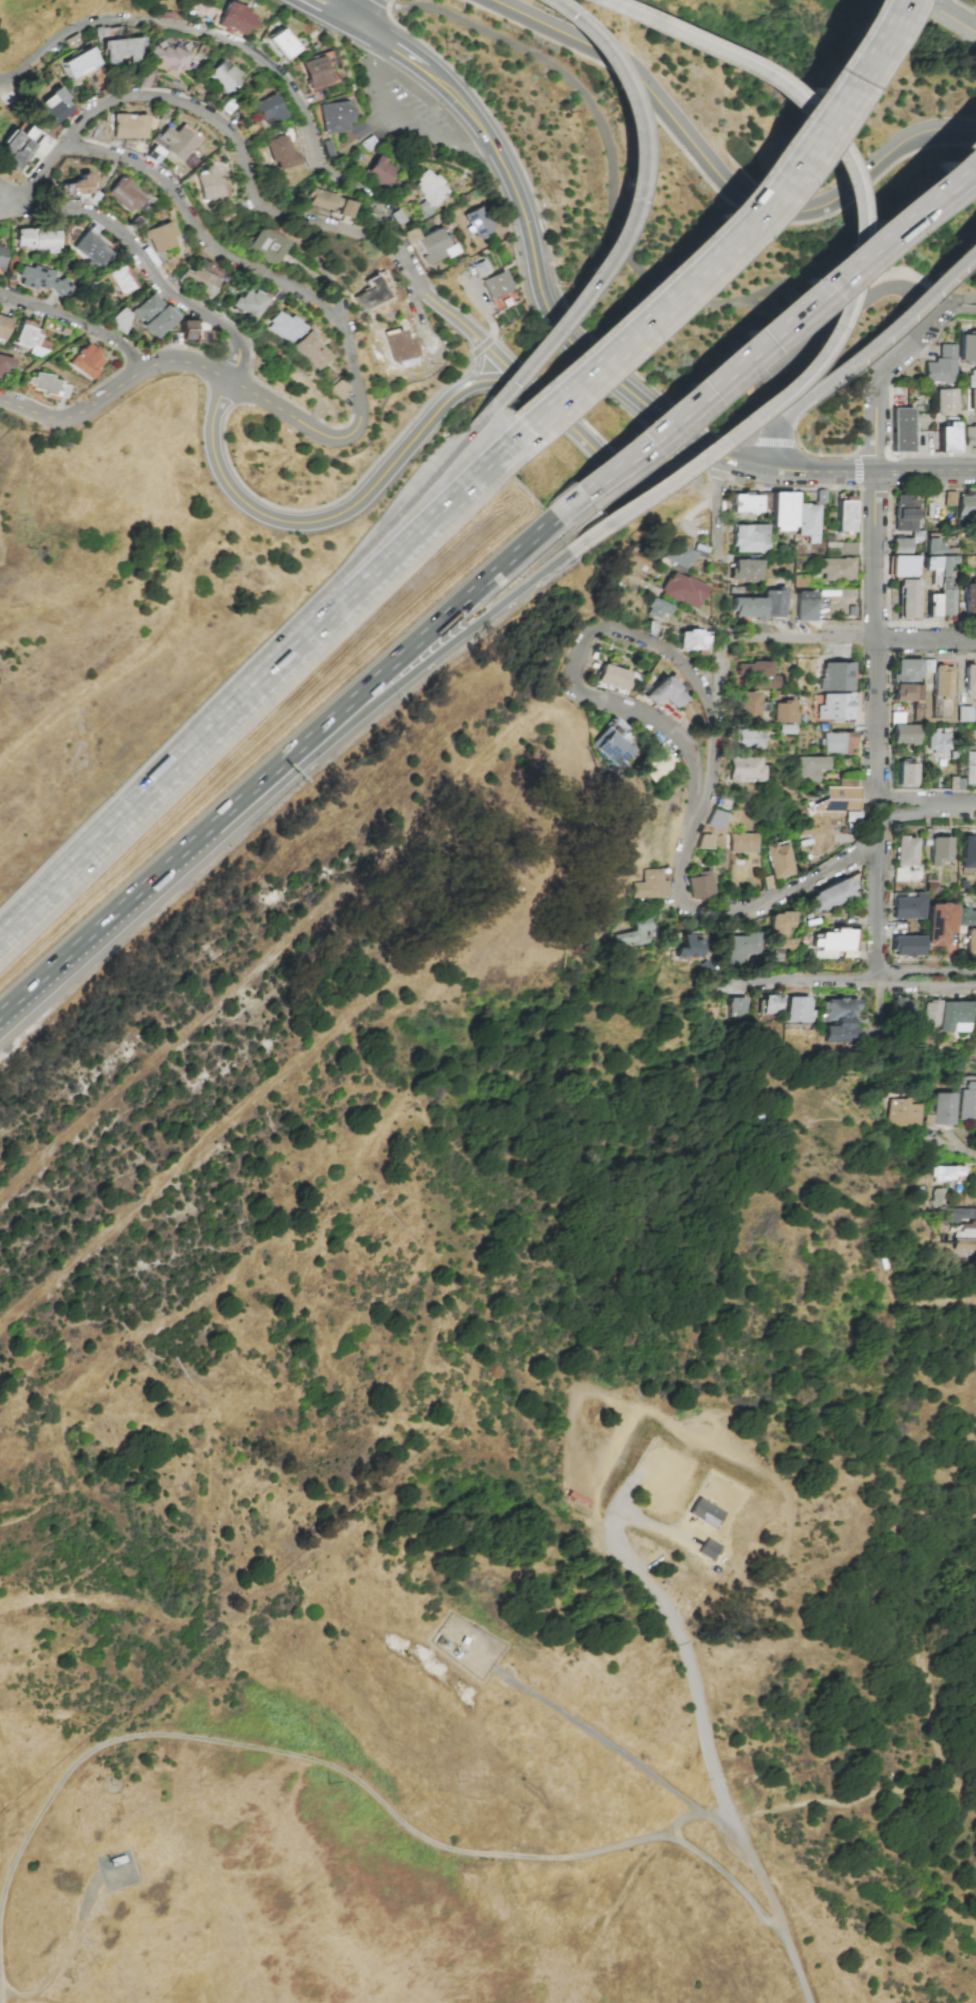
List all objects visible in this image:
road: (919, 1)
road: (343, 9)
road: (358, 9)
road: (317, 16)
road: (944, 16)
building: (236, 20)
road: (234, 44)
building: (280, 44)
building: (122, 50)
building: (167, 59)
building: (80, 63)
building: (318, 71)
building: (225, 77)
road: (135, 98)
building: (53, 109)
building: (268, 110)
building: (334, 116)
road: (395, 123)
building: (128, 126)
building: (176, 142)
building: (17, 147)
building: (281, 152)
building: (380, 171)
road: (717, 177)
building: (207, 184)
building: (78, 185)
building: (428, 191)
road: (614, 191)
building: (124, 195)
road: (631, 201)
building: (330, 203)
building: (477, 222)
road: (323, 224)
road: (198, 231)
building: (410, 236)
building: (160, 237)
building: (38, 239)
building: (265, 246)
building: (433, 247)
building: (92, 249)
road: (710, 249)
road: (306, 255)
building: (2, 256)
road: (142, 260)
road: (538, 271)
road: (848, 272)
building: (201, 277)
building: (122, 279)
building: (43, 281)
building: (496, 284)
building: (371, 295)
building: (248, 304)
road: (953, 304)
road: (437, 305)
road: (848, 311)
building: (154, 315)
road: (779, 315)
building: (120, 320)
building: (284, 326)
building: (4, 327)
road: (767, 327)
road: (74, 328)
road: (884, 330)
building: (193, 333)
building: (29, 337)
building: (398, 346)
parking lot: (796, 346)
building: (967, 348)
building: (311, 351)
building: (85, 361)
road: (480, 361)
building: (5, 365)
building: (941, 365)
road: (511, 370)
building: (972, 378)
building: (47, 385)
building: (339, 389)
building: (944, 400)
building: (972, 400)
building: (900, 430)
building: (947, 436)
road: (344, 438)
building: (970, 438)
road: (776, 443)
road: (826, 469)
road: (926, 471)
road: (926, 489)
building: (950, 498)
building: (745, 504)
road: (720, 505)
road: (408, 506)
building: (966, 508)
building: (844, 513)
building: (905, 514)
road: (319, 520)
building: (807, 522)
building: (749, 538)
road: (876, 544)
building: (901, 546)
building: (842, 547)
building: (679, 555)
building: (902, 566)
building: (836, 569)
building: (745, 570)
building: (941, 581)
building: (682, 590)
building: (908, 599)
building: (969, 600)
building: (772, 603)
building: (805, 606)
building: (933, 606)
building: (746, 608)
building: (656, 609)
road: (447, 620)
road: (455, 637)
road: (814, 637)
building: (691, 641)
building: (908, 670)
building: (751, 675)
building: (836, 676)
building: (611, 677)
road: (578, 678)
building: (943, 682)
building: (970, 682)
building: (666, 691)
building: (907, 692)
road: (248, 699)
building: (917, 705)
building: (744, 706)
building: (835, 707)
building: (781, 712)
building: (964, 714)
building: (903, 730)
building: (745, 739)
building: (937, 741)
building: (837, 742)
building: (606, 743)
building: (651, 764)
building: (808, 768)
building: (742, 769)
building: (969, 769)
building: (906, 774)
road: (559, 782)
road: (913, 798)
building: (838, 802)
road: (961, 807)
road: (697, 813)
road: (903, 816)
building: (714, 819)
building: (703, 841)
building: (741, 843)
building: (938, 851)
building: (968, 852)
building: (777, 860)
road: (169, 873)
building: (650, 883)
building: (700, 885)
road: (784, 894)
building: (828, 896)
building: (906, 906)
road: (874, 911)
building: (937, 923)
building: (780, 931)
building: (634, 933)
building: (971, 940)
building: (832, 944)
building: (906, 946)
building: (743, 947)
building: (686, 948)
road: (922, 972)
road: (806, 977)
road: (923, 987)
building: (770, 1004)
building: (737, 1007)
building: (901, 1009)
building: (798, 1010)
building: (930, 1013)
building: (953, 1016)
building: (837, 1020)
building: (968, 1098)
building: (942, 1109)
building: (901, 1113)
building: (927, 1119)
road: (965, 1150)
building: (946, 1173)
building: (937, 1197)
building: (959, 1214)
building: (966, 1230)
building: (964, 1245)
road: (179, 1314)
building: (704, 1513)
building: (708, 1549)
road: (644, 1579)
road: (81, 1597)
road: (278, 1755)
road: (850, 1799)
road: (692, 1805)
road: (734, 1883)
road: (871, 1914)
road: (61, 1964)

